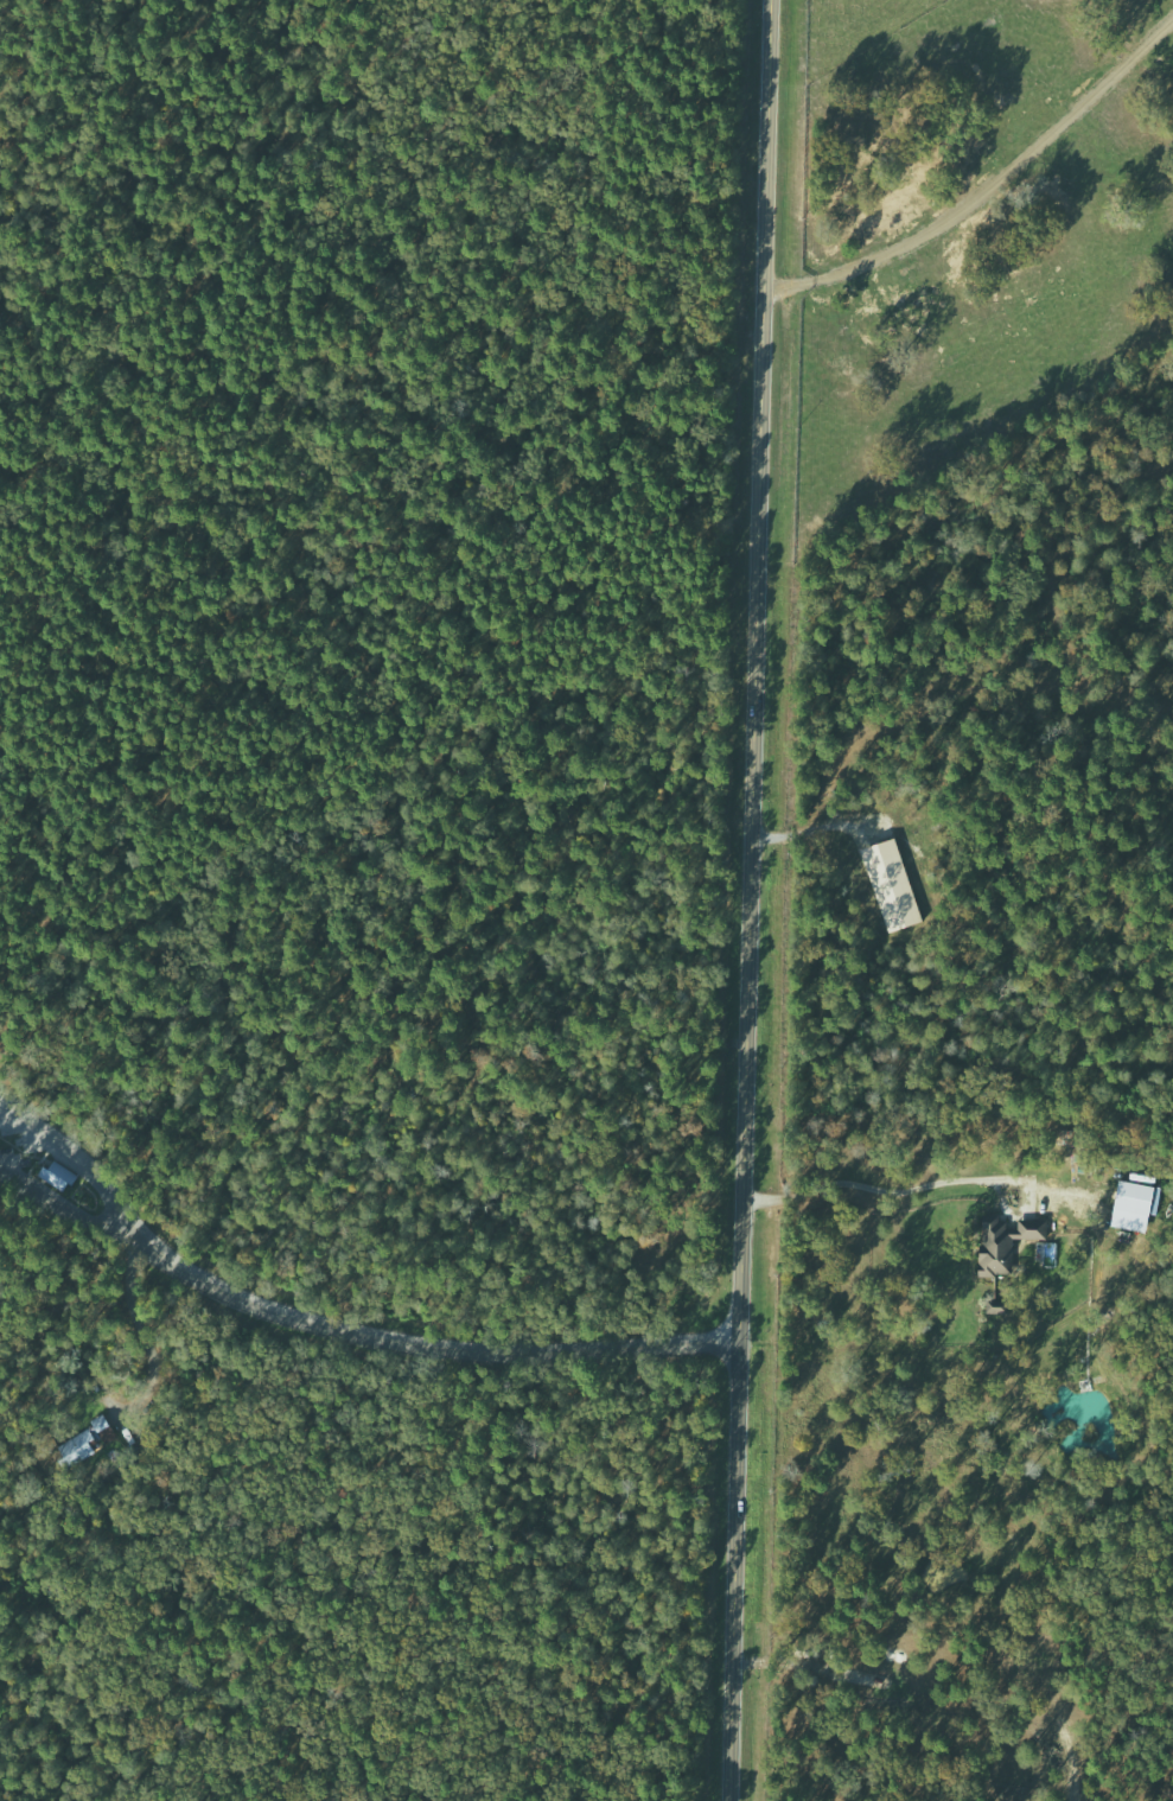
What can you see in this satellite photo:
road: (107, 498)
building: (894, 885)
park: (358, 892)
road: (747, 899)
road: (439, 975)
parking lot: (14, 1133)
building: (60, 1180)
road: (103, 1184)
building: (1135, 1205)
road: (95, 1230)
building: (1009, 1243)
road: (463, 1350)
building: (83, 1440)

